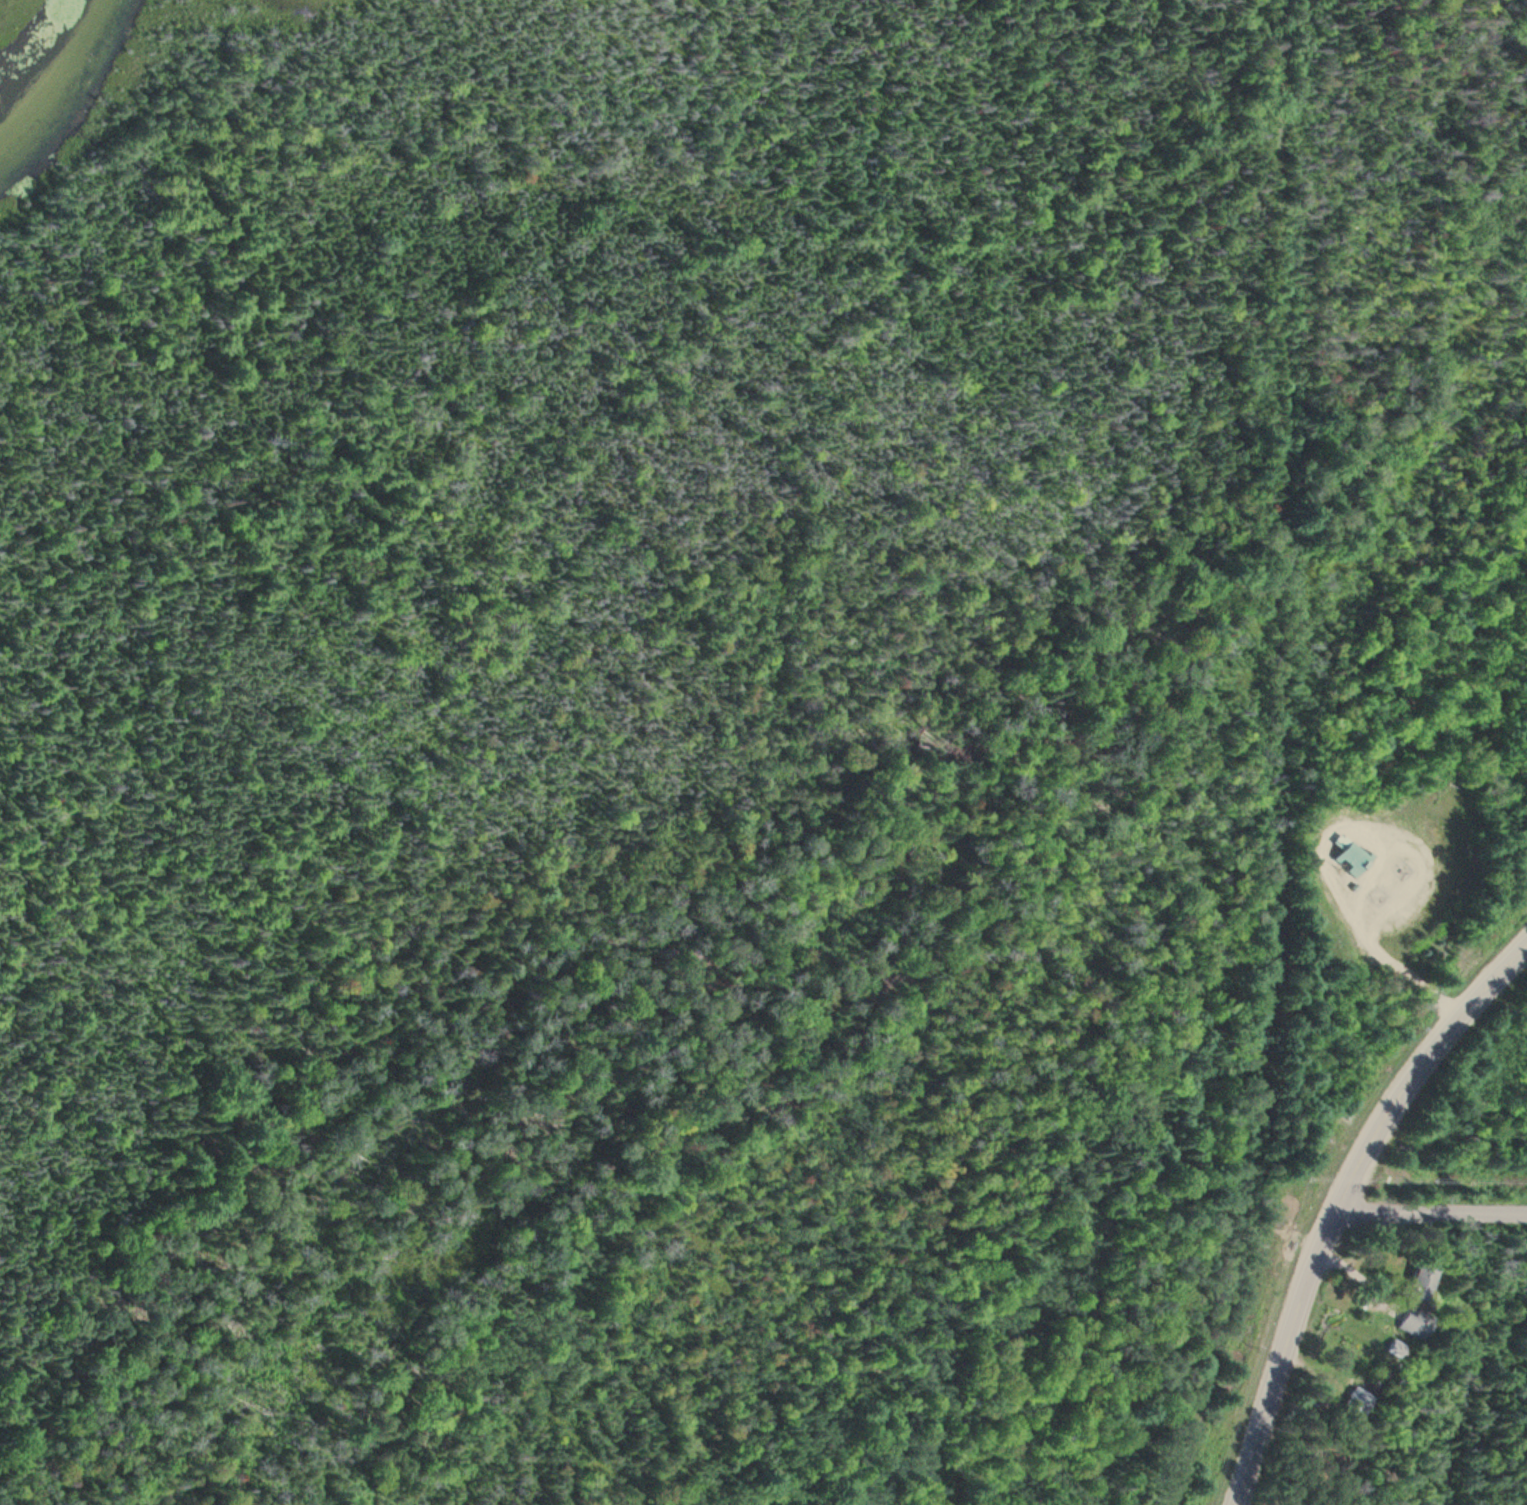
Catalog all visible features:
river: (53, 75)
road: (1275, 758)
building: (1347, 860)
road: (1338, 1202)
road: (1430, 1214)
building: (1417, 1282)
building: (1415, 1323)
building: (1356, 1403)

